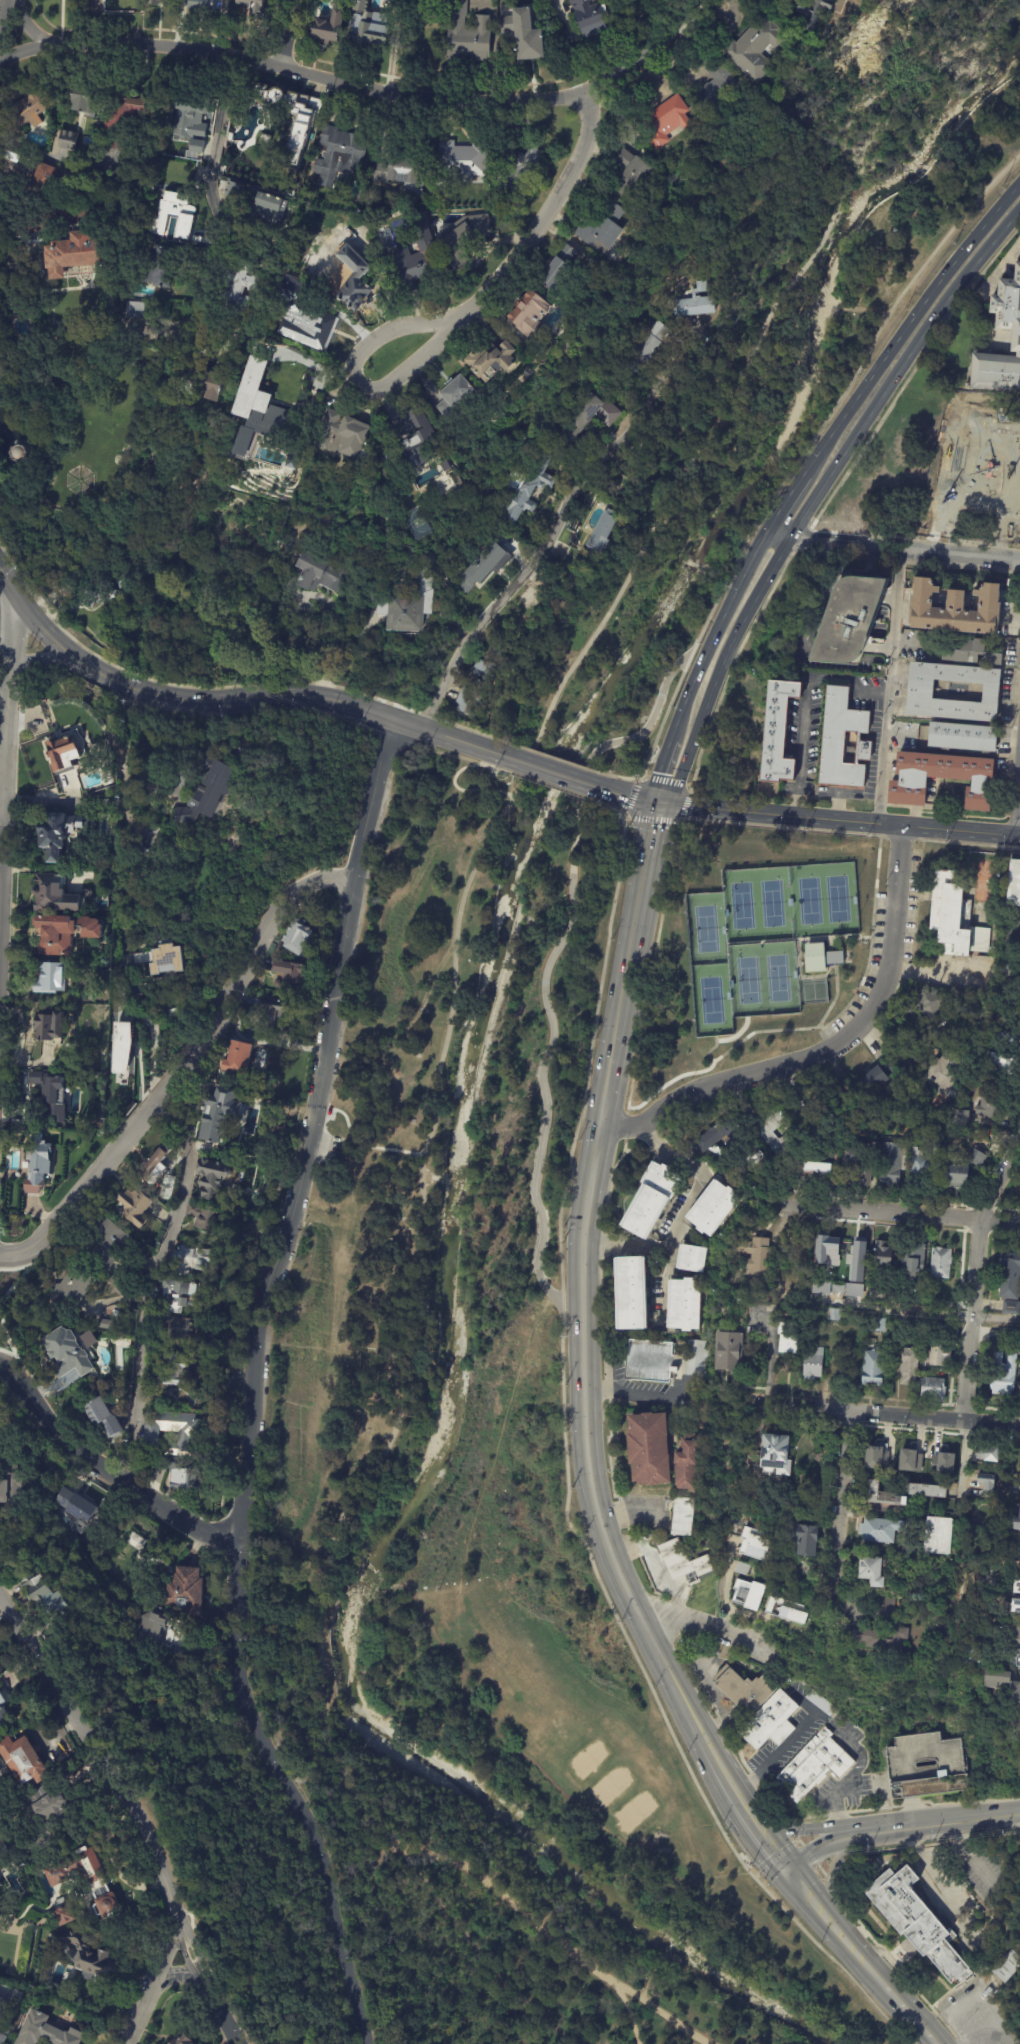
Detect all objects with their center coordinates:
building: (155, 1)
building: (399, 1)
building: (122, 2)
building: (202, 5)
building: (256, 8)
road: (3, 10)
building: (814, 11)
building: (590, 16)
building: (505, 24)
building: (328, 26)
building: (366, 26)
road: (27, 29)
road: (293, 33)
building: (526, 33)
building: (467, 35)
road: (142, 44)
building: (755, 48)
road: (26, 59)
road: (258, 60)
building: (82, 96)
building: (718, 99)
road: (509, 100)
building: (28, 104)
building: (120, 120)
building: (190, 122)
building: (664, 122)
building: (302, 132)
building: (66, 140)
building: (264, 143)
building: (8, 155)
building: (338, 155)
building: (459, 163)
building: (517, 169)
building: (632, 174)
building: (400, 175)
building: (44, 178)
building: (2, 190)
road: (209, 195)
building: (436, 196)
building: (153, 202)
building: (61, 206)
building: (256, 206)
building: (96, 207)
building: (173, 215)
building: (601, 228)
building: (465, 239)
building: (76, 255)
building: (713, 256)
building: (415, 264)
building: (158, 269)
building: (558, 270)
building: (352, 280)
road: (802, 291)
building: (235, 294)
building: (695, 301)
road: (867, 307)
building: (133, 310)
building: (531, 316)
building: (302, 318)
building: (1008, 322)
road: (453, 324)
road: (907, 324)
building: (645, 346)
park: (788, 357)
building: (490, 359)
road: (314, 365)
building: (199, 383)
building: (455, 398)
building: (254, 405)
building: (586, 416)
road: (623, 425)
building: (341, 436)
building: (414, 447)
building: (148, 449)
building: (20, 453)
building: (445, 466)
building: (524, 485)
building: (956, 492)
road: (817, 493)
road: (1003, 499)
road: (783, 503)
building: (297, 530)
road: (554, 531)
building: (601, 531)
road: (891, 549)
building: (484, 565)
building: (324, 573)
building: (55, 582)
building: (149, 584)
road: (8, 588)
building: (96, 597)
building: (408, 603)
building: (956, 609)
building: (850, 617)
road: (5, 622)
road: (713, 635)
road: (314, 646)
building: (970, 651)
road: (365, 658)
building: (480, 682)
road: (887, 687)
building: (922, 690)
road: (252, 699)
road: (5, 701)
road: (804, 706)
building: (779, 730)
building: (964, 736)
building: (843, 740)
building: (63, 753)
building: (121, 759)
road: (1, 764)
road: (661, 771)
road: (553, 773)
building: (908, 784)
building: (206, 790)
road: (458, 790)
road: (625, 796)
road: (74, 801)
traffic signals: (658, 804)
road: (1017, 810)
road: (779, 815)
building: (58, 832)
road: (960, 832)
building: (151, 860)
building: (1013, 883)
building: (126, 885)
building: (55, 894)
road: (895, 897)
park: (837, 898)
park: (809, 900)
park: (771, 902)
park: (741, 904)
building: (953, 917)
park: (705, 928)
building: (63, 933)
road: (635, 935)
building: (294, 939)
road: (552, 956)
building: (161, 957)
building: (813, 957)
building: (833, 957)
building: (1011, 970)
building: (289, 972)
building: (51, 978)
park: (777, 978)
park: (748, 980)
building: (276, 984)
park: (711, 999)
building: (929, 1003)
building: (182, 1010)
building: (273, 1012)
building: (171, 1014)
road: (866, 1017)
building: (50, 1027)
building: (1005, 1038)
building: (120, 1048)
road: (442, 1057)
building: (238, 1059)
building: (1000, 1063)
building: (908, 1069)
road: (180, 1071)
building: (945, 1071)
building: (876, 1077)
road: (729, 1082)
building: (79, 1087)
building: (836, 1092)
building: (953, 1092)
building: (28, 1093)
road: (606, 1095)
building: (52, 1097)
road: (586, 1097)
building: (858, 1105)
building: (990, 1105)
building: (84, 1109)
building: (216, 1114)
building: (959, 1118)
road: (620, 1125)
building: (802, 1129)
building: (21, 1132)
building: (706, 1139)
building: (933, 1143)
building: (41, 1154)
building: (890, 1162)
building: (855, 1167)
building: (961, 1167)
building: (916, 1168)
building: (153, 1169)
building: (818, 1171)
building: (213, 1179)
road: (997, 1180)
building: (649, 1201)
road: (357, 1205)
building: (133, 1207)
building: (710, 1209)
road: (685, 1211)
road: (897, 1213)
building: (205, 1219)
building: (103, 1244)
building: (797, 1250)
building: (823, 1255)
building: (755, 1256)
building: (881, 1256)
building: (854, 1258)
building: (690, 1259)
building: (192, 1262)
building: (910, 1262)
building: (939, 1263)
road: (975, 1269)
building: (1007, 1275)
road: (154, 1286)
building: (69, 1290)
building: (840, 1292)
building: (872, 1292)
building: (182, 1296)
building: (628, 1296)
building: (682, 1307)
building: (1009, 1307)
road: (867, 1308)
building: (832, 1316)
building: (877, 1325)
building: (176, 1328)
building: (1008, 1334)
building: (785, 1339)
building: (937, 1352)
building: (67, 1353)
building: (728, 1353)
building: (696, 1359)
building: (648, 1362)
building: (811, 1363)
building: (905, 1365)
building: (869, 1366)
building: (1019, 1366)
building: (175, 1369)
road: (966, 1370)
building: (1001, 1374)
road: (249, 1386)
building: (932, 1389)
building: (1017, 1390)
road: (633, 1394)
road: (807, 1408)
road: (587, 1410)
building: (104, 1415)
road: (935, 1419)
road: (987, 1424)
road: (1016, 1427)
building: (188, 1437)
building: (647, 1446)
building: (879, 1450)
building: (774, 1451)
building: (986, 1452)
building: (937, 1454)
building: (684, 1460)
road: (962, 1461)
building: (933, 1463)
building: (906, 1465)
road: (100, 1471)
building: (182, 1476)
building: (983, 1483)
building: (8, 1484)
building: (925, 1488)
building: (882, 1494)
road: (838, 1495)
park: (479, 1496)
building: (76, 1509)
building: (680, 1515)
building: (792, 1518)
building: (1010, 1521)
building: (878, 1528)
building: (934, 1535)
building: (804, 1537)
building: (135, 1541)
building: (754, 1542)
building: (1017, 1555)
road: (345, 1558)
building: (680, 1559)
building: (869, 1568)
road: (390, 1580)
building: (184, 1589)
building: (40, 1591)
building: (931, 1591)
building: (747, 1592)
building: (1018, 1600)
building: (1015, 1606)
building: (785, 1608)
building: (995, 1610)
road: (700, 1625)
building: (157, 1630)
building: (882, 1633)
building: (1015, 1633)
building: (980, 1654)
building: (1017, 1657)
building: (1003, 1684)
building: (742, 1688)
building: (820, 1703)
road: (707, 1708)
building: (2, 1709)
building: (768, 1721)
road: (696, 1740)
road: (773, 1756)
park: (587, 1757)
building: (21, 1761)
building: (925, 1765)
building: (813, 1766)
road: (753, 1779)
park: (611, 1784)
road: (768, 1797)
road: (941, 1801)
building: (45, 1807)
road: (737, 1807)
road: (859, 1810)
park: (634, 1811)
road: (850, 1811)
road: (838, 1813)
road: (131, 1814)
road: (804, 1816)
road: (798, 1818)
road: (957, 1821)
road: (797, 1826)
road: (882, 1829)
road: (807, 1830)
road: (799, 1841)
road: (763, 1844)
road: (823, 1845)
road: (810, 1855)
road: (775, 1858)
road: (975, 1862)
traffic signals: (781, 1870)
road: (822, 1870)
road: (836, 1872)
building: (84, 1880)
road: (830, 1880)
road: (935, 1881)
road: (838, 1885)
road: (842, 1887)
road: (802, 1897)
building: (62, 1915)
building: (916, 1921)
road: (468, 1939)
road: (670, 1948)
building: (83, 1954)
road: (852, 1955)
building: (1008, 1965)
building: (46, 1972)
road: (149, 1982)
road: (979, 1994)
building: (2, 2008)
road: (631, 2013)
road: (907, 2015)
building: (44, 2032)
building: (3, 2035)
road: (989, 2038)
building: (180, 2041)
road: (262, 2042)

